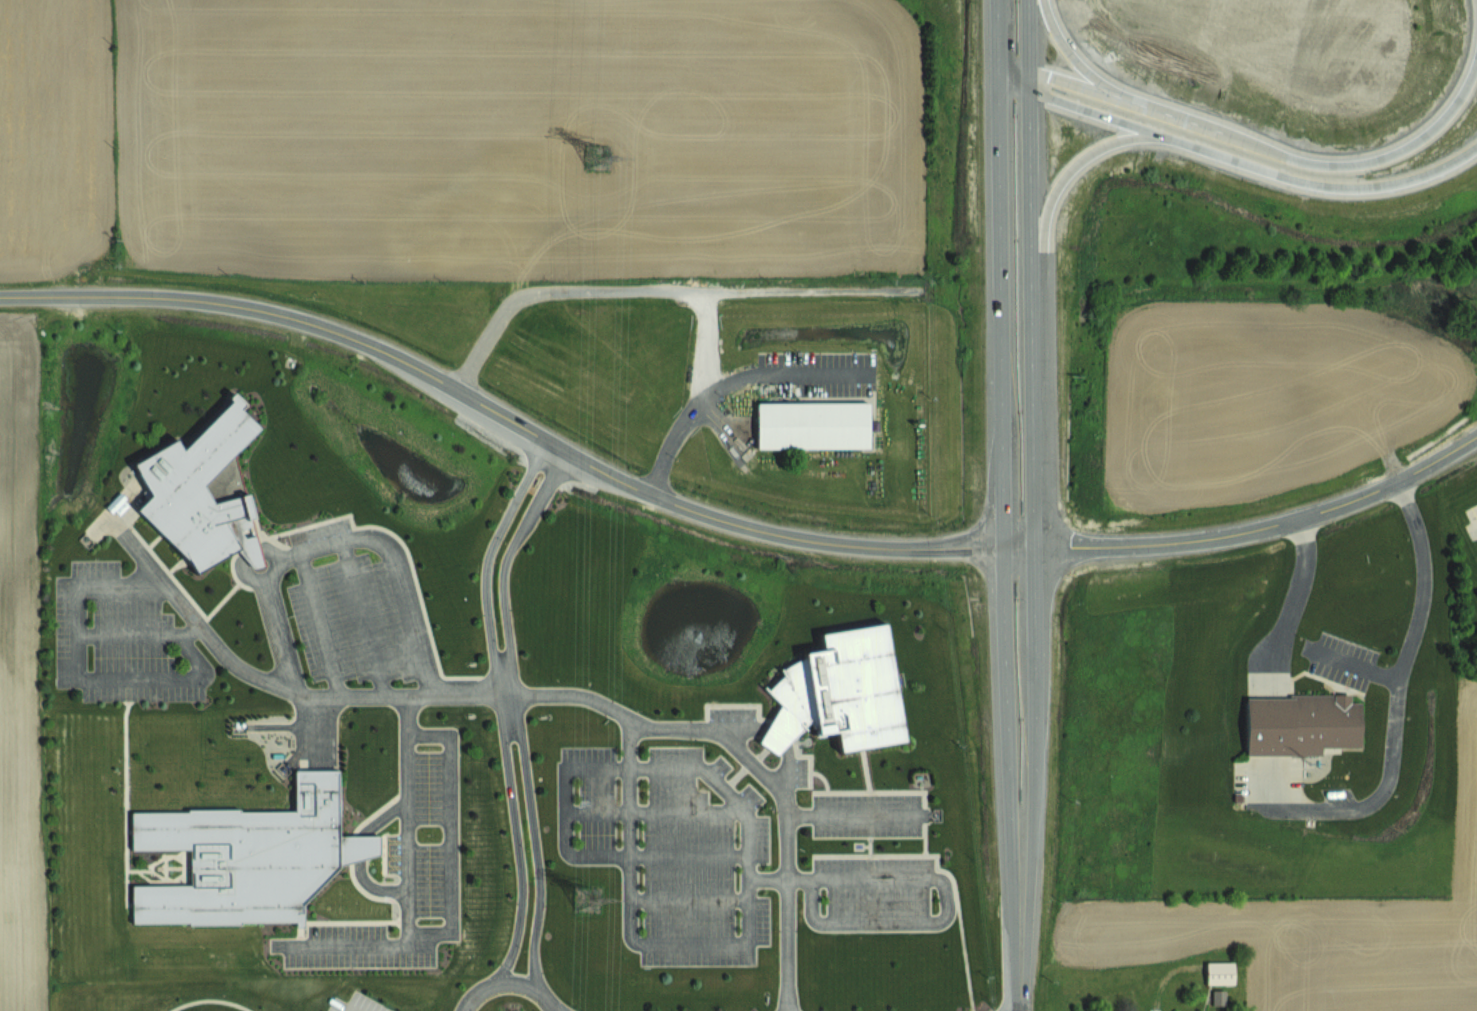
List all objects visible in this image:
road: (999, 35)
road: (1029, 45)
road: (1070, 83)
road: (1256, 146)
power tower: (598, 157)
road: (1235, 160)
road: (1068, 173)
road: (661, 292)
road: (711, 341)
road: (727, 381)
building: (812, 424)
road: (1003, 482)
building: (201, 490)
road: (1034, 492)
road: (726, 520)
road: (1476, 523)
road: (337, 538)
road: (250, 552)
road: (267, 552)
road: (241, 576)
road: (1287, 596)
road: (1419, 616)
road: (359, 617)
road: (317, 624)
road: (78, 677)
building: (837, 693)
road: (531, 696)
road: (499, 706)
road: (517, 715)
building: (1300, 724)
road: (618, 767)
road: (851, 813)
road: (381, 817)
road: (357, 848)
building: (247, 857)
road: (373, 887)
power tower: (588, 898)
road: (940, 910)
road: (448, 920)
road: (628, 938)
road: (346, 946)
road: (1022, 952)
building: (1219, 972)
road: (508, 976)
building: (1218, 997)
road: (557, 1006)

